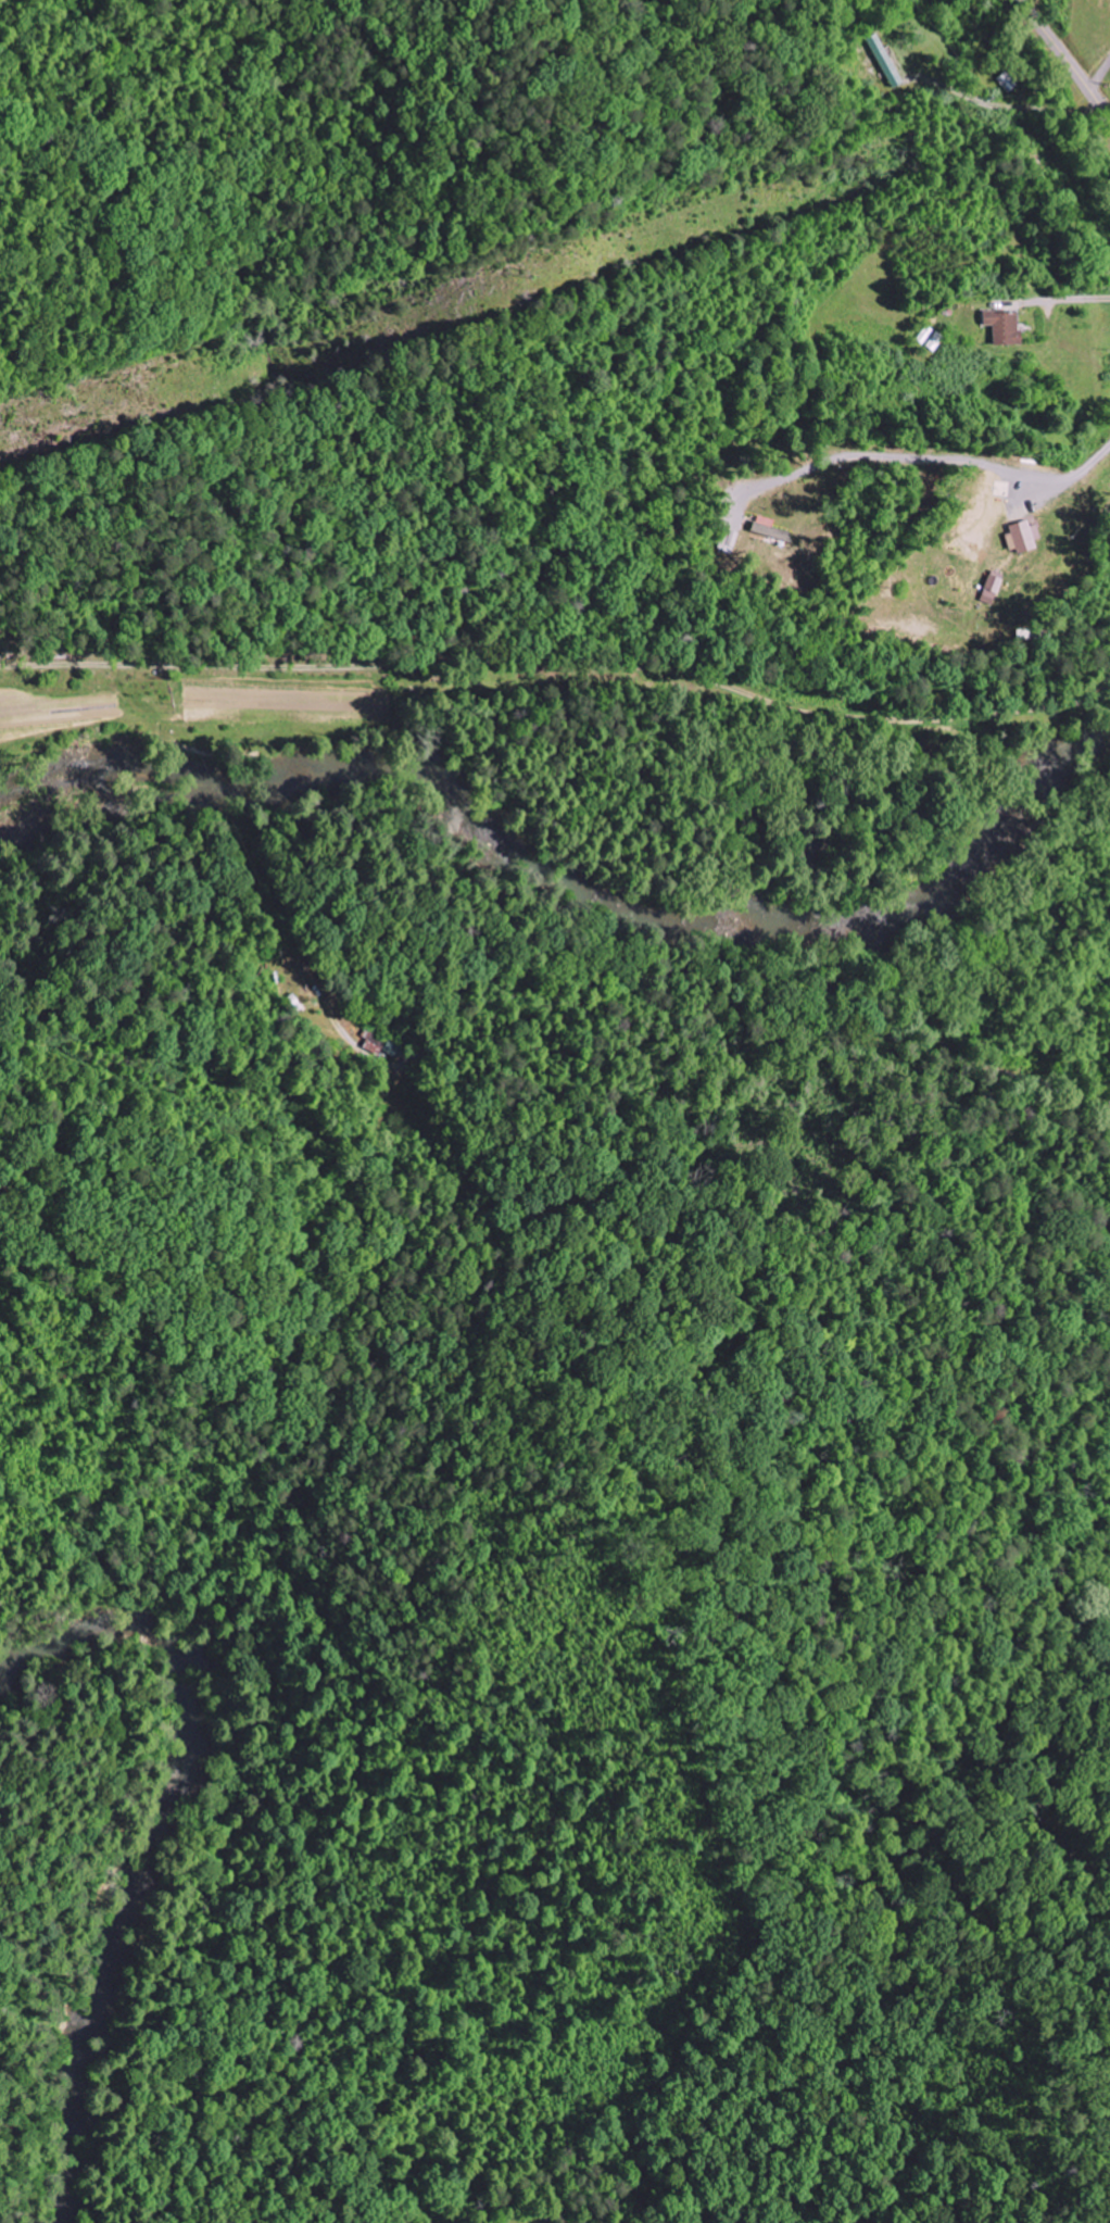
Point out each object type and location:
road: (1065, 61)
building: (883, 62)
building: (1006, 327)
building: (768, 529)
building: (1022, 537)
building: (991, 588)
road: (476, 601)
river: (566, 880)
river: (155, 1841)

